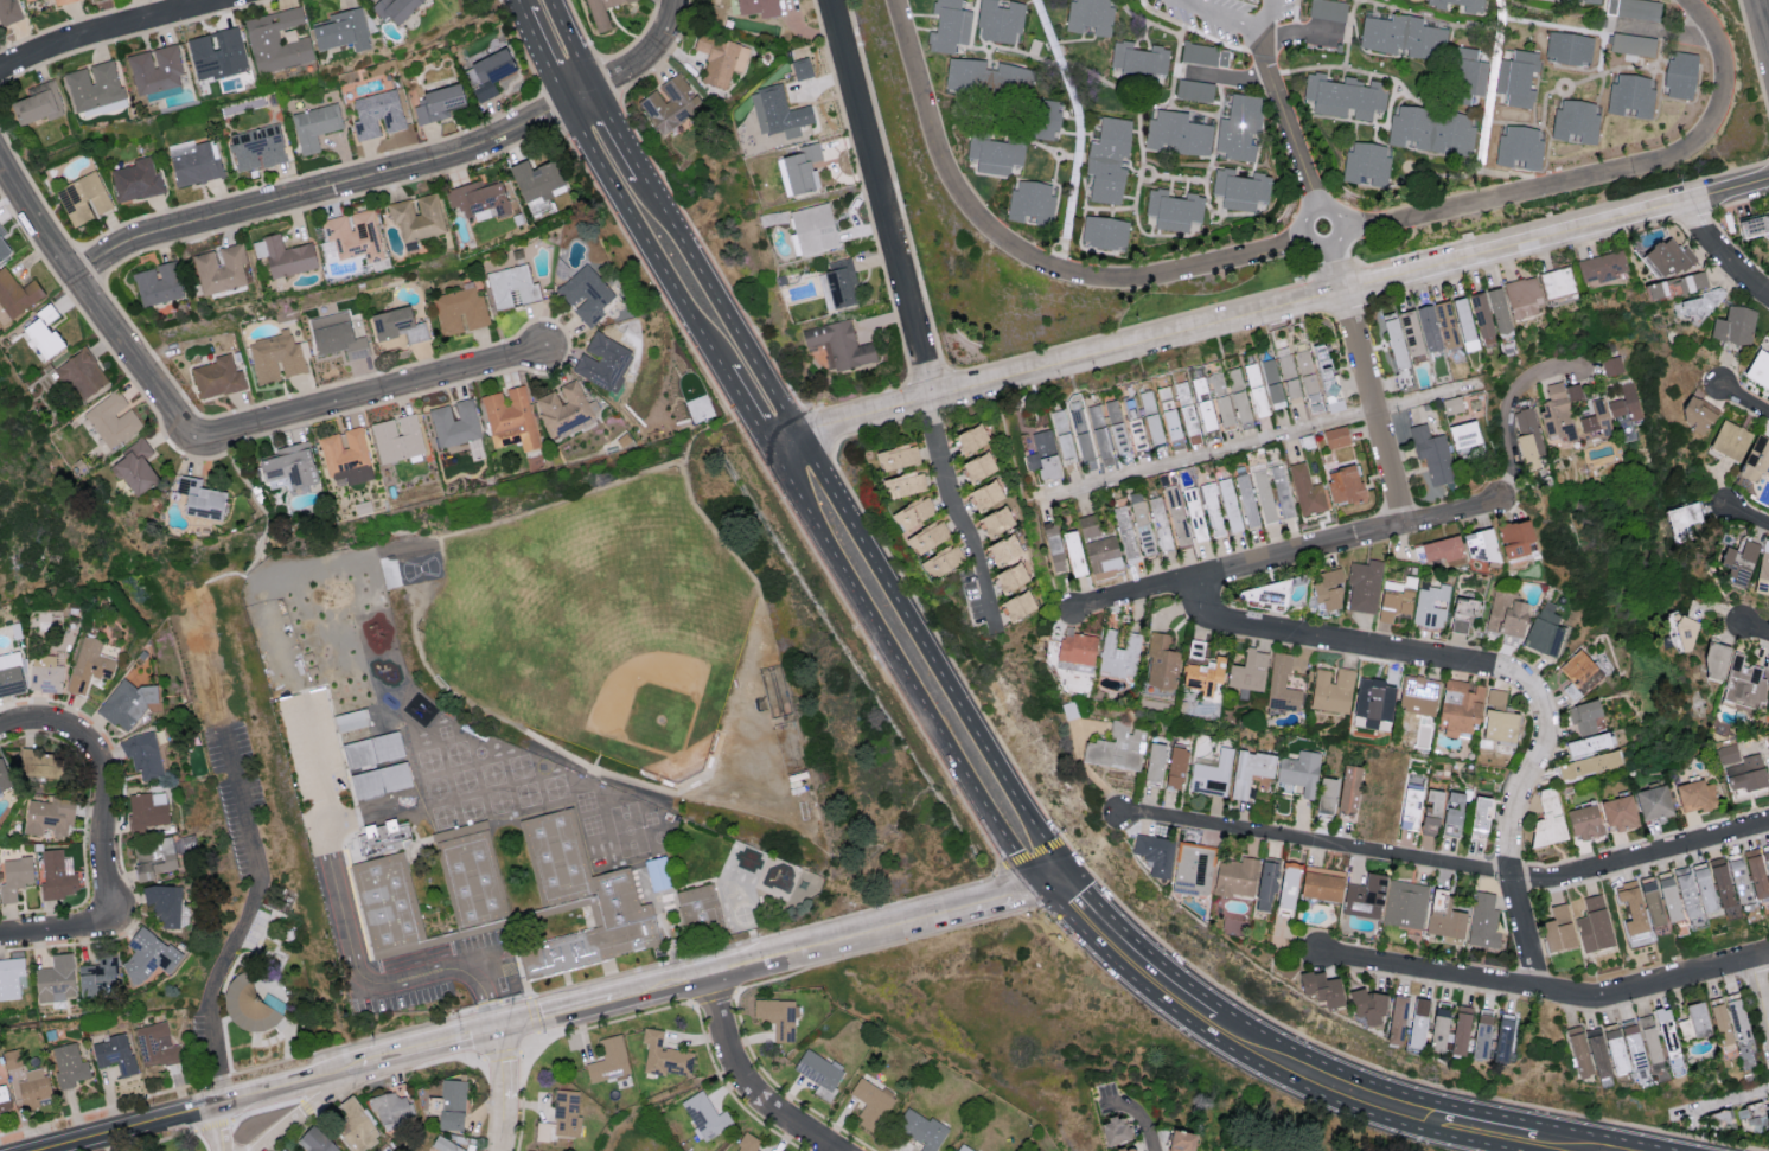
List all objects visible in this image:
building: (30, 1)
building: (1589, 1)
building: (63, 2)
road: (519, 4)
building: (1473, 6)
building: (758, 7)
building: (396, 9)
building: (1328, 9)
building: (8, 12)
building: (600, 12)
building: (1090, 17)
building: (1000, 20)
road: (1241, 21)
road: (1155, 24)
road: (1465, 25)
building: (949, 26)
road: (111, 30)
building: (1614, 31)
road: (1760, 31)
building: (341, 32)
building: (1403, 36)
building: (276, 43)
road: (571, 43)
road: (647, 53)
building: (217, 55)
road: (543, 55)
building: (720, 58)
building: (1138, 59)
building: (802, 68)
building: (490, 72)
building: (155, 73)
building: (988, 78)
building: (95, 90)
building: (1345, 95)
building: (438, 103)
building: (670, 103)
building: (38, 104)
building: (778, 111)
building: (376, 113)
road: (1458, 117)
building: (1046, 119)
building: (314, 126)
building: (1239, 127)
road: (1484, 127)
building: (1432, 129)
road: (618, 132)
road: (1079, 133)
building: (1176, 134)
building: (256, 147)
building: (995, 154)
building: (1107, 159)
building: (193, 161)
road: (1301, 161)
building: (1366, 164)
building: (800, 168)
building: (136, 179)
building: (536, 179)
road: (336, 188)
building: (1239, 188)
building: (478, 197)
building: (83, 198)
road: (882, 199)
building: (1030, 203)
building: (1173, 209)
building: (416, 216)
building: (1756, 226)
building: (815, 228)
building: (1104, 232)
building: (351, 235)
road: (644, 235)
road: (1298, 244)
building: (2, 247)
road: (1724, 252)
building: (283, 256)
building: (1666, 257)
building: (1602, 266)
building: (221, 268)
building: (839, 281)
building: (1692, 281)
building: (159, 283)
building: (512, 286)
building: (15, 294)
road: (85, 294)
building: (586, 294)
building: (1522, 296)
road: (1282, 308)
building: (459, 309)
building: (1489, 314)
building: (1463, 321)
building: (397, 325)
building: (1447, 325)
building: (1735, 325)
building: (1428, 328)
building: (43, 332)
building: (1411, 332)
building: (336, 335)
building: (1768, 335)
building: (1394, 340)
building: (838, 344)
building: (275, 357)
building: (603, 362)
building: (1612, 365)
building: (1758, 369)
building: (1324, 370)
building: (81, 373)
building: (217, 376)
building: (1289, 378)
building: (1308, 381)
building: (1271, 383)
building: (1253, 390)
building: (1235, 395)
road: (362, 397)
road: (1426, 397)
road: (1745, 401)
building: (1209, 402)
building: (1627, 402)
building: (1451, 404)
building: (566, 410)
road: (748, 410)
road: (1373, 410)
road: (1508, 410)
building: (1166, 413)
building: (1184, 413)
building: (1557, 414)
building: (1136, 415)
building: (1695, 415)
building: (510, 417)
building: (1597, 417)
building: (113, 418)
building: (455, 423)
building: (1115, 428)
building: (1151, 430)
building: (1088, 433)
building: (1462, 435)
building: (1336, 436)
building: (1527, 436)
building: (397, 437)
building: (972, 439)
building: (1062, 440)
building: (1730, 440)
road: (784, 443)
building: (475, 448)
road: (1208, 453)
building: (1432, 454)
building: (1042, 456)
building: (345, 458)
building: (898, 458)
building: (1756, 460)
building: (289, 465)
building: (979, 466)
building: (134, 468)
building: (903, 484)
park: (47, 485)
building: (1345, 485)
building: (1305, 490)
building: (1281, 491)
building: (986, 494)
building: (1263, 495)
building: (199, 498)
building: (1245, 500)
building: (1227, 505)
building: (1211, 510)
building: (912, 512)
road: (958, 512)
building: (1175, 514)
building: (1193, 514)
building: (1681, 519)
road: (1749, 520)
building: (996, 522)
building: (1158, 523)
building: (1087, 525)
road: (854, 527)
building: (1142, 527)
building: (1124, 535)
building: (927, 536)
building: (1514, 538)
building: (1479, 545)
building: (1003, 549)
building: (1441, 549)
building: (1101, 554)
road: (1289, 557)
building: (943, 561)
building: (1738, 562)
building: (1762, 575)
building: (1011, 577)
building: (1365, 586)
building: (1327, 589)
building: (1262, 593)
building: (1017, 606)
building: (1431, 607)
building: (1463, 614)
building: (1506, 615)
park: (600, 627)
building: (1544, 631)
road: (1757, 632)
building: (1684, 634)
building: (1077, 648)
building: (1119, 654)
building: (1713, 663)
building: (89, 664)
building: (1161, 664)
road: (905, 670)
building: (1248, 671)
building: (47, 672)
building: (1580, 672)
building: (9, 673)
building: (1203, 674)
road: (1514, 676)
building: (1282, 684)
building: (1743, 684)
building: (1333, 690)
building: (1419, 695)
building: (1496, 698)
building: (1374, 699)
building: (126, 703)
building: (1460, 709)
building: (351, 720)
building: (1500, 725)
building: (1589, 743)
building: (1117, 747)
building: (142, 753)
building: (1155, 761)
building: (40, 763)
building: (1588, 765)
building: (1176, 767)
building: (1742, 769)
building: (376, 770)
building: (1250, 770)
building: (1298, 773)
building: (5, 774)
building: (1213, 774)
road: (107, 776)
building: (1349, 788)
building: (1327, 795)
building: (1695, 795)
building: (1653, 802)
building: (1409, 806)
building: (147, 808)
building: (1431, 812)
building: (1452, 813)
building: (1480, 813)
building: (1618, 813)
building: (47, 816)
building: (1547, 820)
building: (1584, 823)
building: (1155, 853)
building: (153, 858)
road: (1448, 864)
building: (1767, 865)
building: (1194, 869)
building: (57, 872)
building: (657, 874)
building: (1755, 874)
building: (14, 875)
building: (1237, 876)
road: (1055, 882)
building: (1738, 882)
building: (1321, 883)
building: (1720, 884)
building: (1288, 885)
building: (1265, 887)
building: (1703, 888)
building: (1685, 891)
building: (588, 895)
building: (1365, 897)
building: (1667, 897)
road: (989, 901)
building: (164, 902)
building: (1650, 902)
building: (1405, 904)
building: (1630, 908)
building: (698, 916)
building: (1444, 916)
road: (244, 917)
building: (1483, 920)
building: (1594, 925)
road: (356, 928)
road: (58, 929)
building: (1558, 929)
road: (823, 947)
building: (147, 954)
parking lot: (455, 957)
road: (1167, 967)
road: (1431, 974)
building: (9, 977)
building: (56, 978)
road: (1655, 985)
building: (1321, 989)
road: (662, 992)
road: (1761, 993)
building: (248, 1006)
building: (1367, 1008)
building: (777, 1016)
building: (1737, 1017)
road: (562, 1018)
building: (1693, 1019)
building: (1396, 1021)
building: (1719, 1022)
building: (1417, 1024)
building: (1438, 1028)
building: (1665, 1028)
building: (1460, 1031)
building: (1481, 1035)
road: (496, 1036)
building: (1502, 1037)
building: (1649, 1037)
building: (157, 1043)
building: (1631, 1044)
building: (1577, 1049)
building: (1614, 1050)
building: (116, 1053)
building: (1597, 1054)
road: (422, 1056)
building: (664, 1056)
building: (609, 1061)
building: (69, 1064)
road: (1259, 1064)
building: (818, 1068)
road: (1356, 1076)
road: (748, 1082)
building: (33, 1087)
road: (287, 1091)
road: (507, 1092)
building: (4, 1099)
road: (1722, 1100)
building: (870, 1102)
building: (454, 1105)
building: (392, 1111)
road: (302, 1112)
road: (1488, 1113)
building: (567, 1114)
road: (1435, 1115)
building: (705, 1117)
building: (1750, 1117)
building: (1719, 1118)
road: (1139, 1119)
building: (357, 1128)
building: (921, 1128)
building: (1113, 1128)
road: (133, 1131)
road: (215, 1131)
building: (543, 1133)
road: (1607, 1137)
building: (1179, 1139)
building: (318, 1142)
building: (747, 1143)
building: (446, 1145)
building: (963, 1147)
building: (1124, 1149)
building: (282, 1150)

